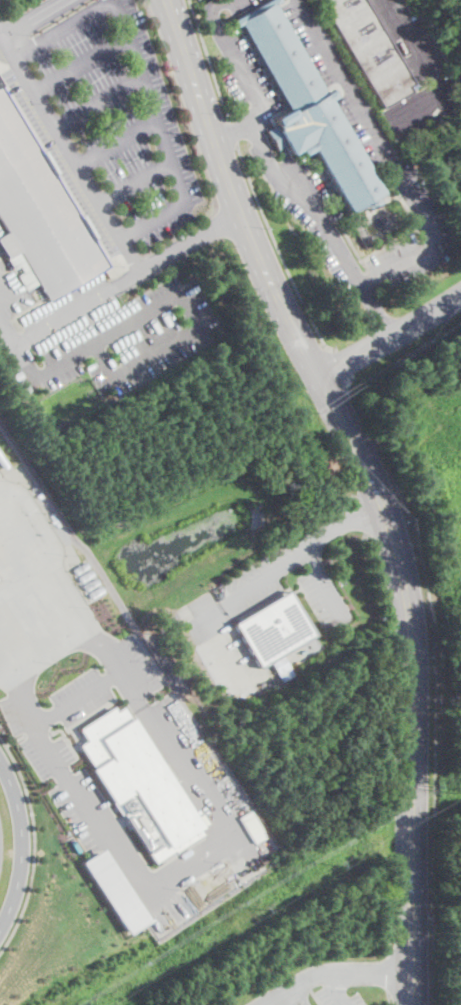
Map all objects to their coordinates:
parking lot: (237, 4)
road: (33, 18)
road: (2, 32)
parking lot: (314, 40)
building: (368, 49)
road: (208, 59)
road: (235, 59)
road: (81, 63)
road: (423, 67)
parking lot: (413, 69)
parking lot: (246, 72)
road: (143, 79)
road: (96, 98)
building: (307, 109)
parking lot: (107, 121)
road: (233, 132)
building: (269, 138)
road: (116, 142)
road: (388, 159)
road: (134, 181)
road: (231, 193)
road: (98, 203)
road: (315, 207)
building: (39, 213)
parking lot: (317, 217)
road: (278, 250)
road: (127, 278)
road: (168, 302)
road: (52, 322)
parking lot: (119, 339)
road: (390, 339)
road: (339, 366)
building: (26, 387)
road: (360, 515)
road: (340, 522)
road: (347, 551)
road: (33, 568)
road: (267, 575)
road: (381, 579)
road: (325, 585)
building: (273, 629)
road: (40, 640)
road: (437, 681)
road: (410, 682)
road: (75, 695)
building: (138, 783)
road: (21, 845)
road: (34, 845)
road: (188, 875)
building: (114, 890)
road: (390, 937)
road: (389, 972)
road: (329, 973)
road: (339, 988)
parking lot: (338, 997)
road: (388, 998)

